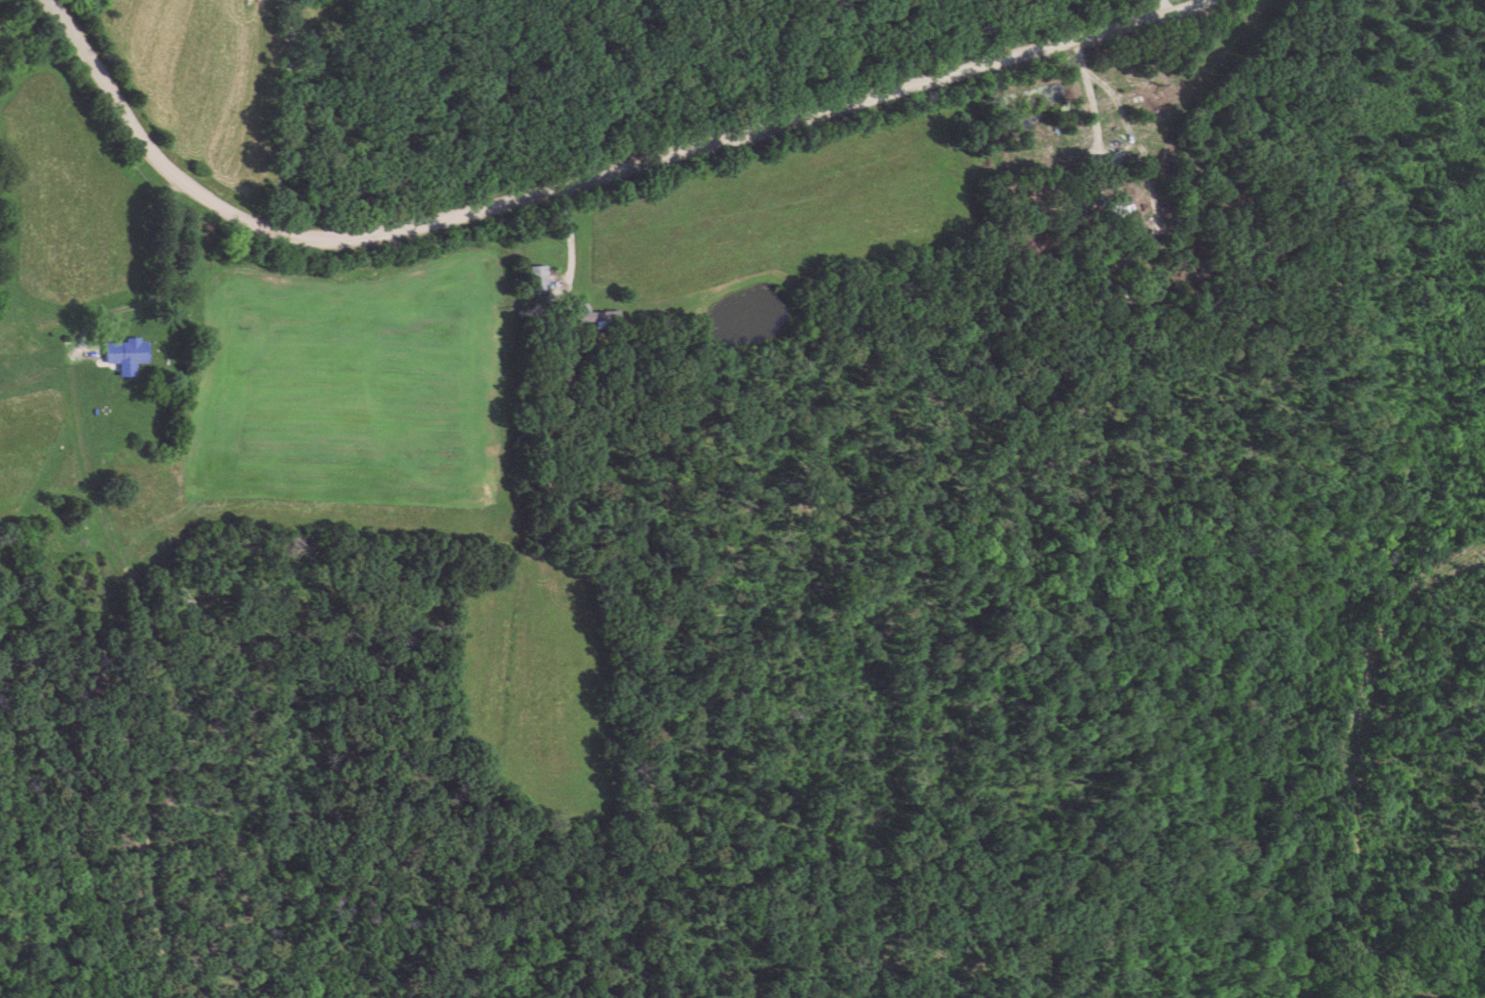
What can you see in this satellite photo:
road: (293, 116)
road: (584, 180)
road: (574, 257)
road: (180, 264)
building: (538, 280)
building: (596, 319)
building: (125, 353)

